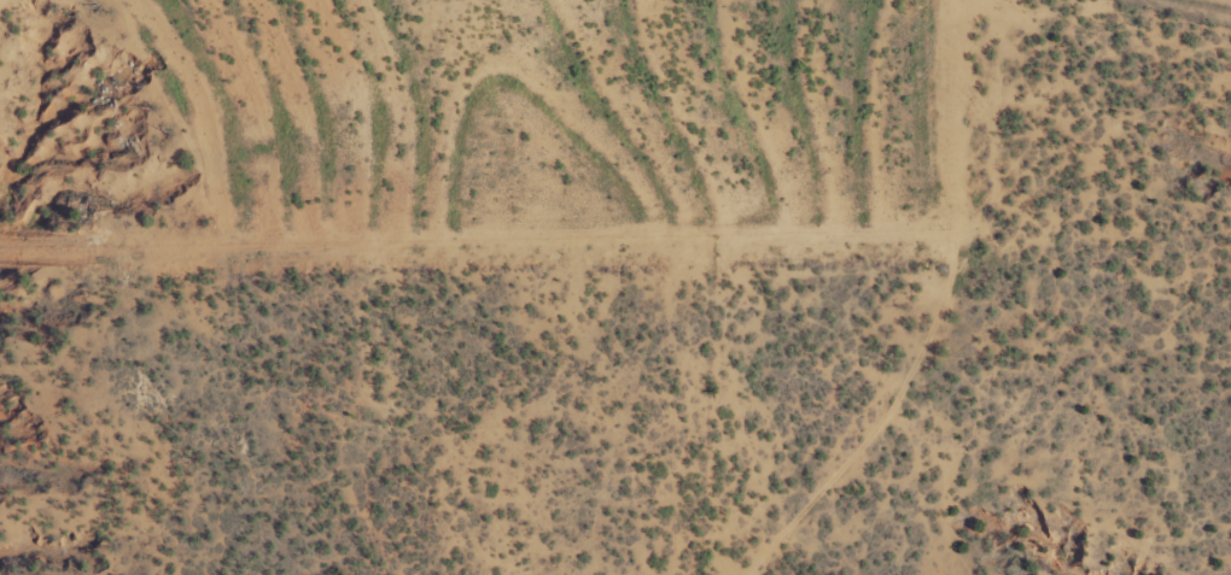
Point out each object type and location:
road: (997, 74)

